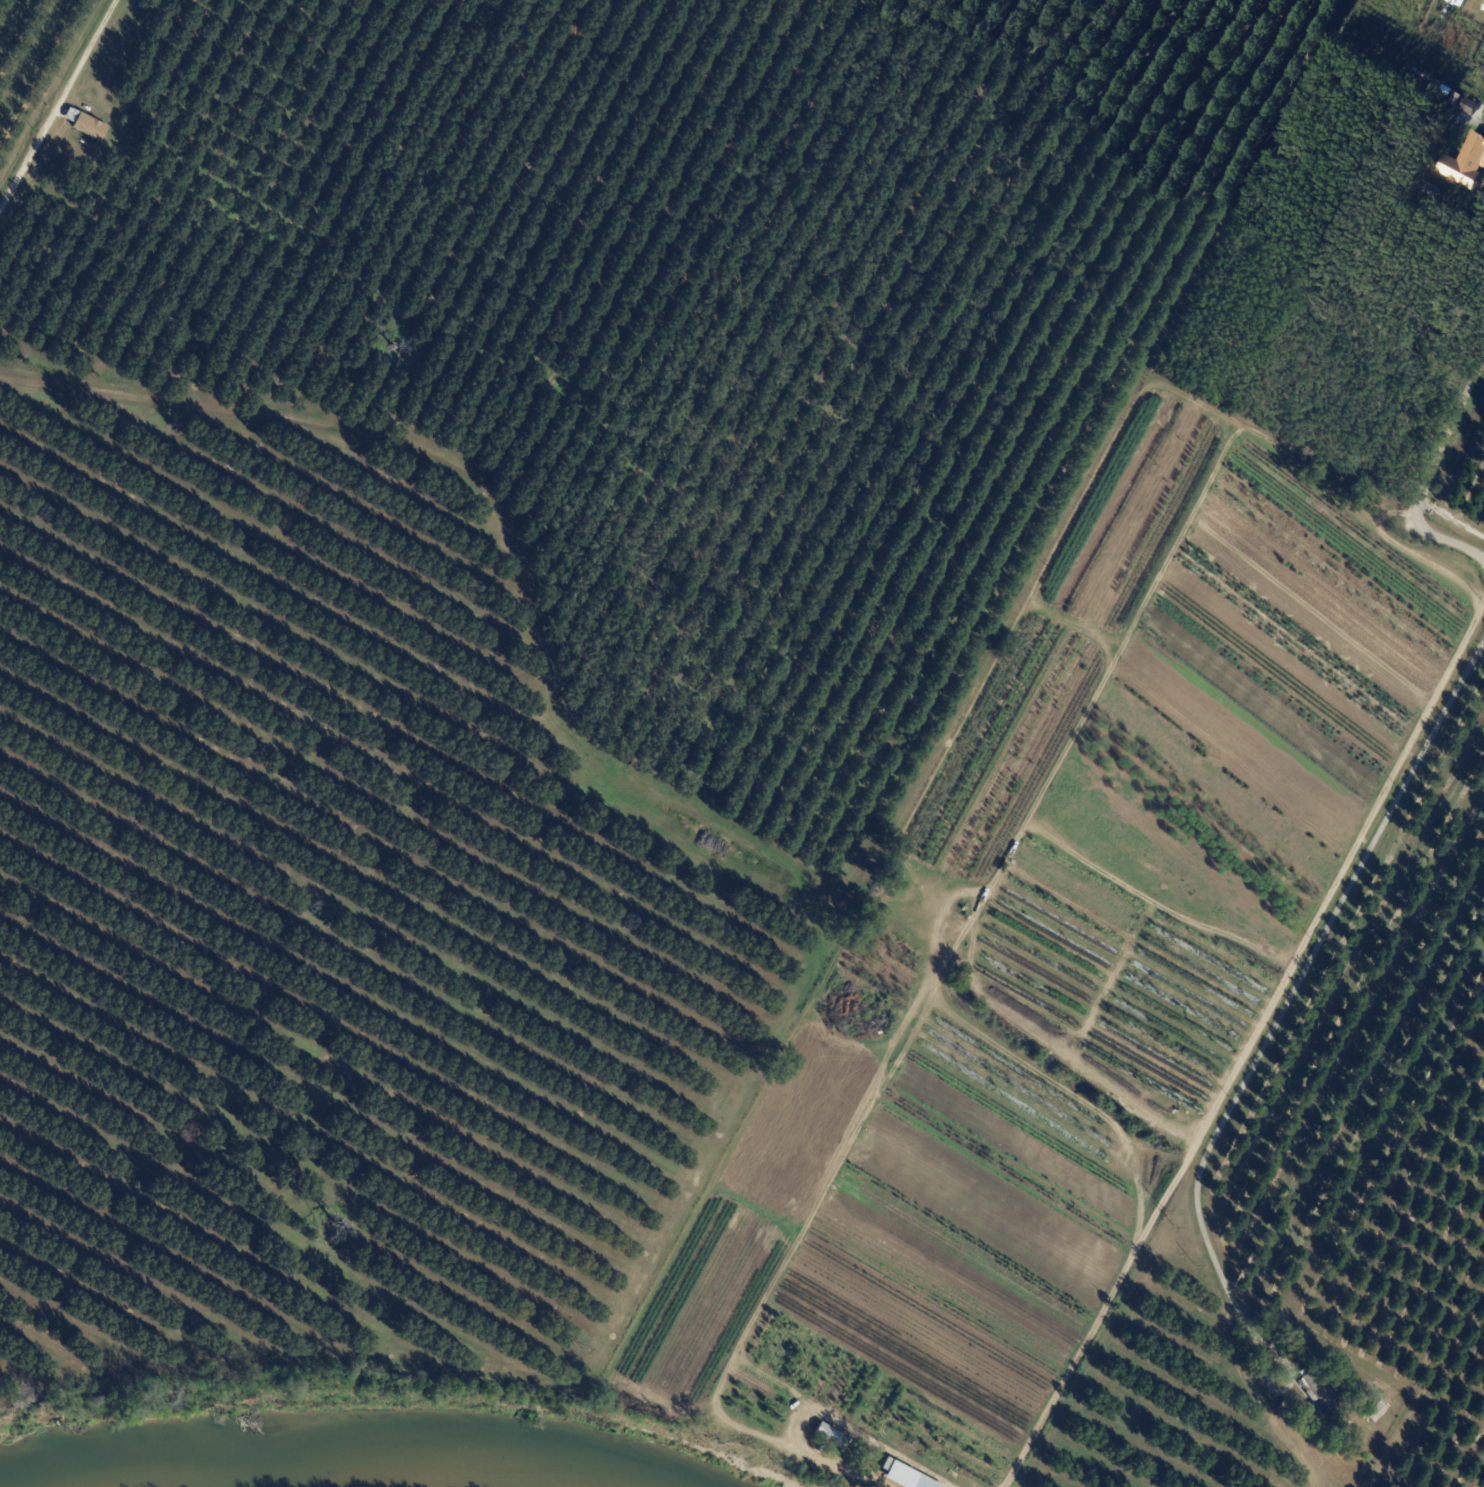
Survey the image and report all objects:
building: (1458, 2)
road: (57, 104)
building: (1469, 108)
road: (1477, 125)
building: (89, 128)
building: (1474, 149)
building: (91, 154)
building: (1466, 175)
road: (1430, 486)
road: (1453, 518)
building: (967, 917)
road: (1290, 992)
road: (1243, 1042)
building: (1355, 1388)
building: (1323, 1397)
building: (1380, 1409)
building: (829, 1436)
river: (336, 1449)
building: (842, 1451)
building: (863, 1455)
building: (903, 1476)

